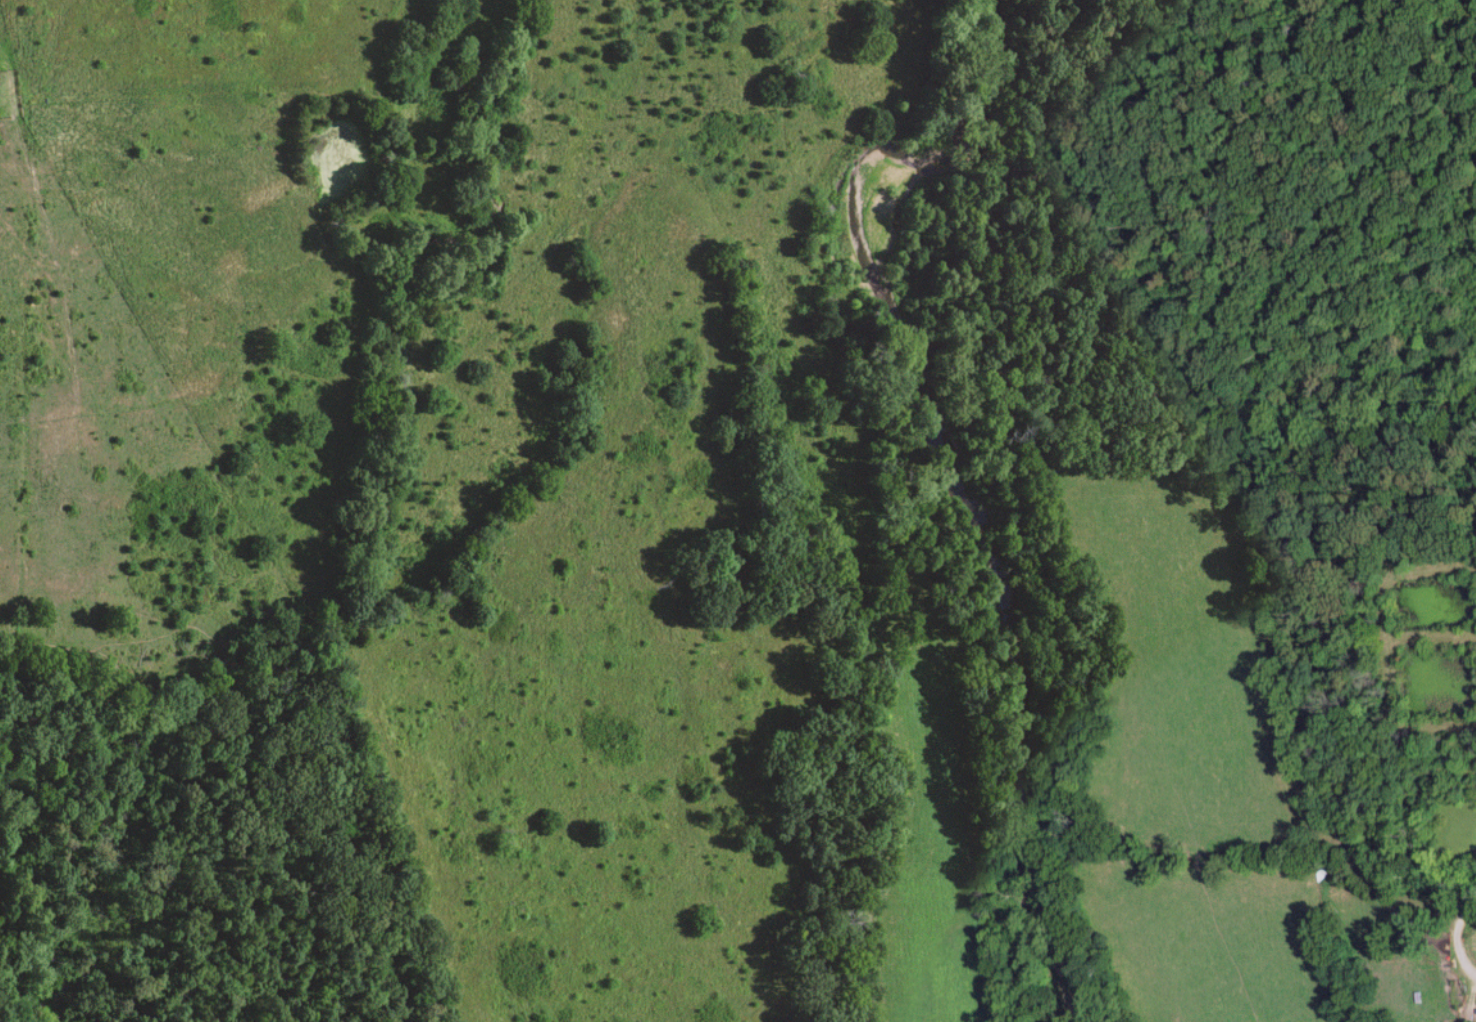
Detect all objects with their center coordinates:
road: (1455, 941)

